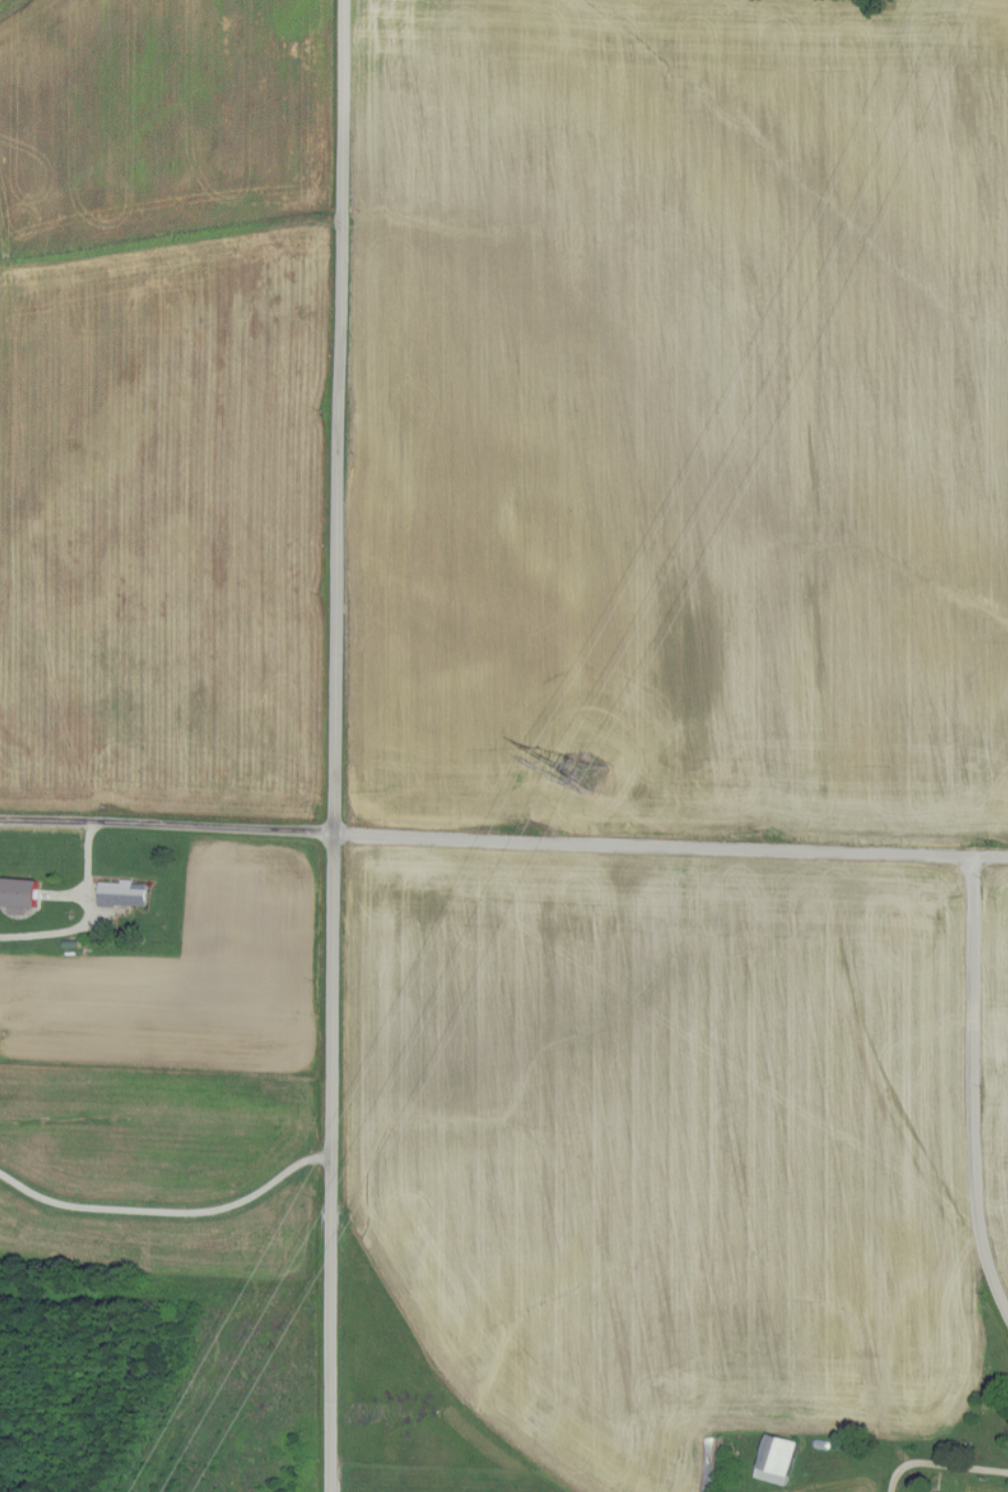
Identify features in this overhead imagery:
road: (335, 745)
power tower: (592, 765)
road: (503, 840)
building: (18, 892)
building: (123, 894)
road: (84, 917)
road: (970, 1085)
road: (170, 1212)
building: (777, 1460)
building: (715, 1465)
road: (943, 1466)

